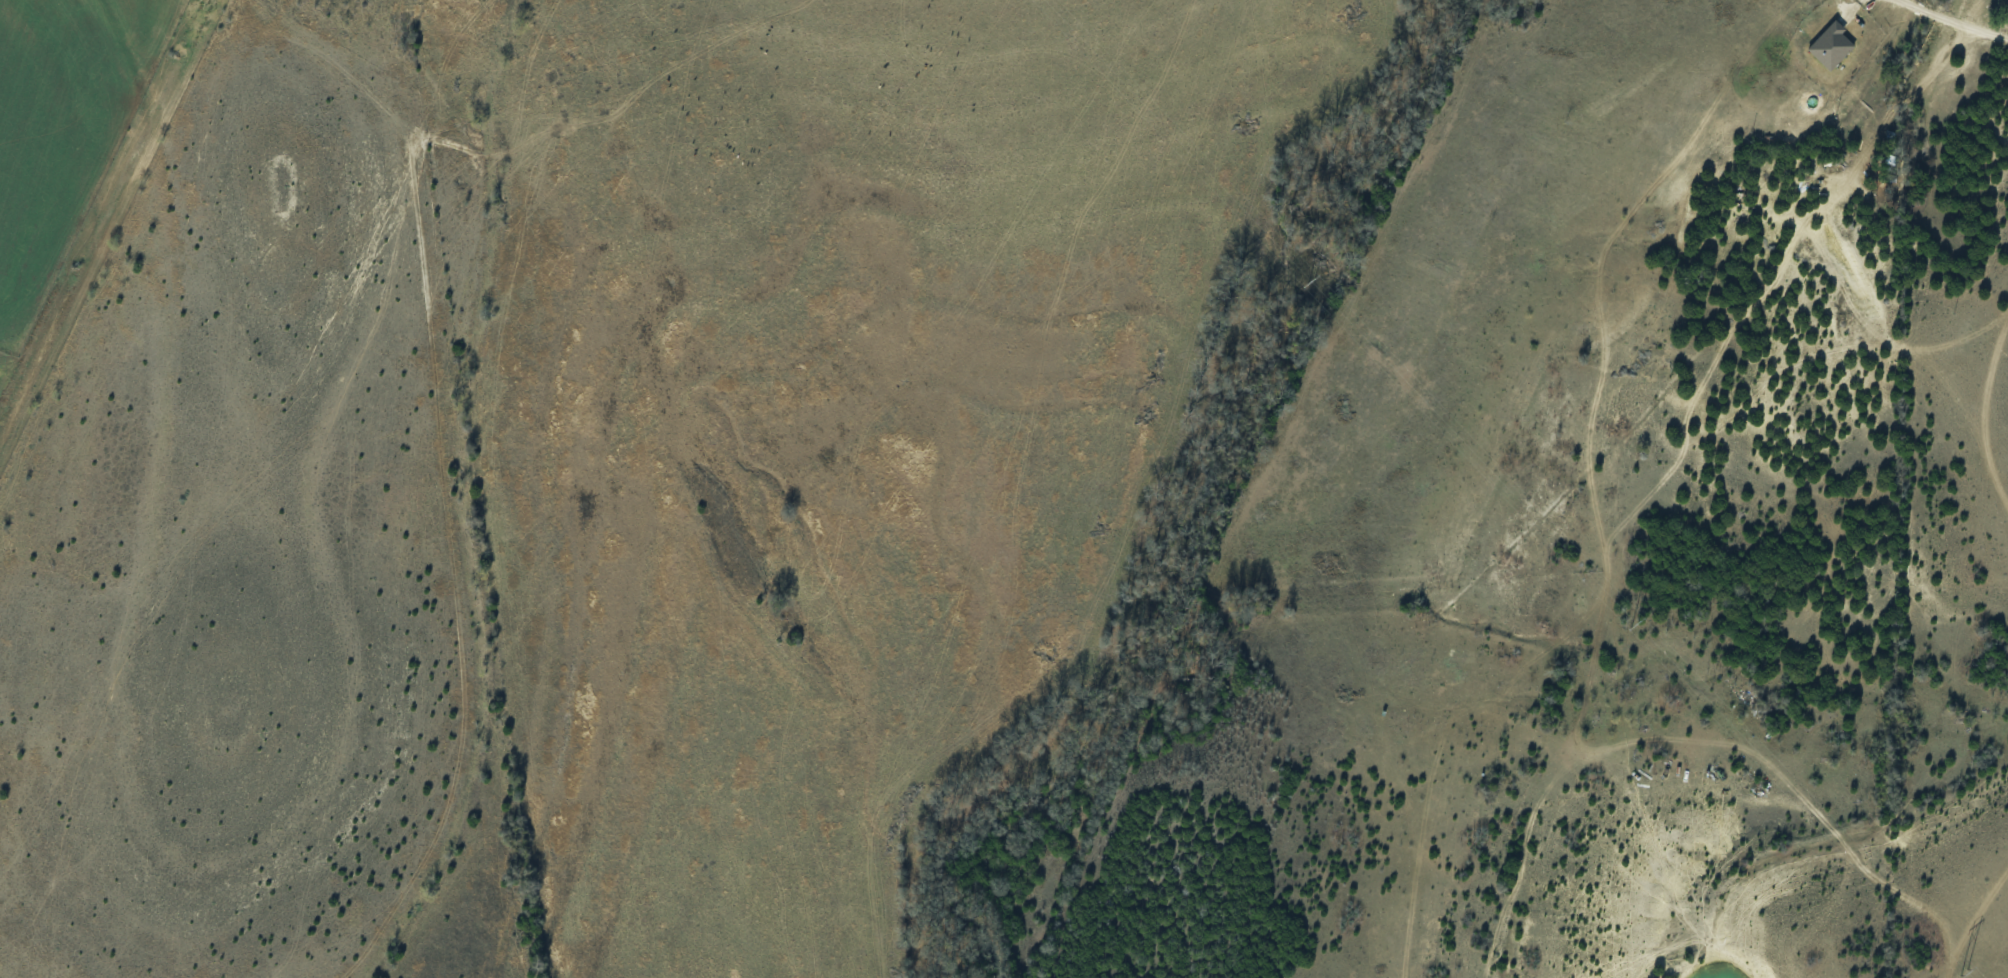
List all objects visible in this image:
power tower: (1309, 279)
power tower: (1634, 622)
power tower: (1963, 971)

